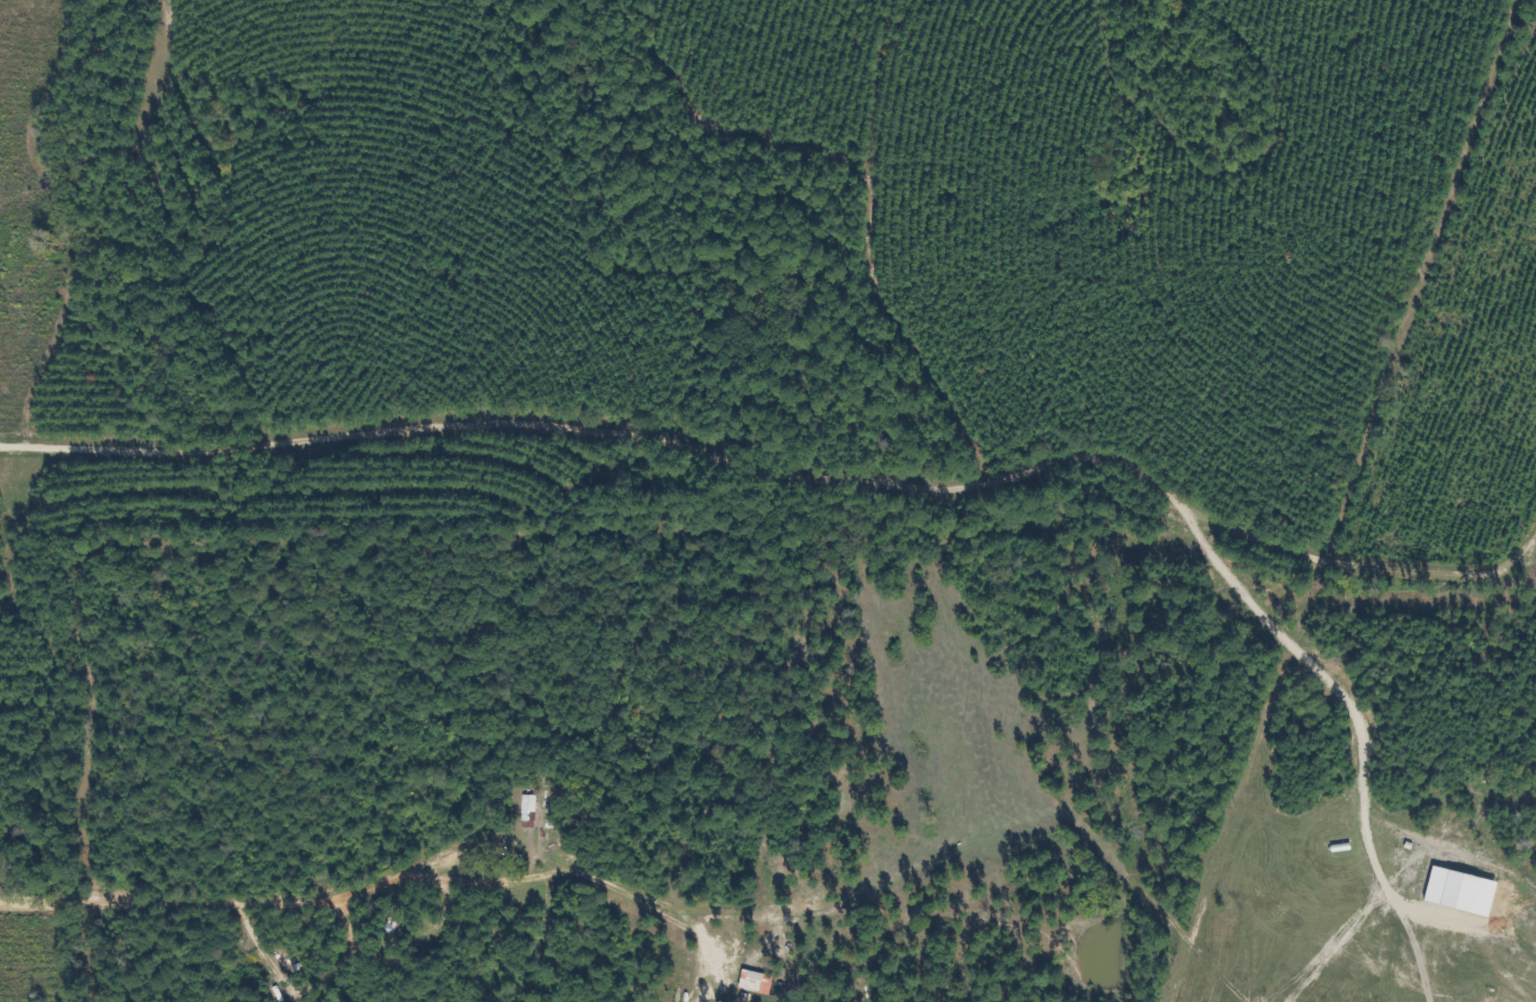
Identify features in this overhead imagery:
road: (788, 475)
building: (526, 810)
road: (247, 897)

